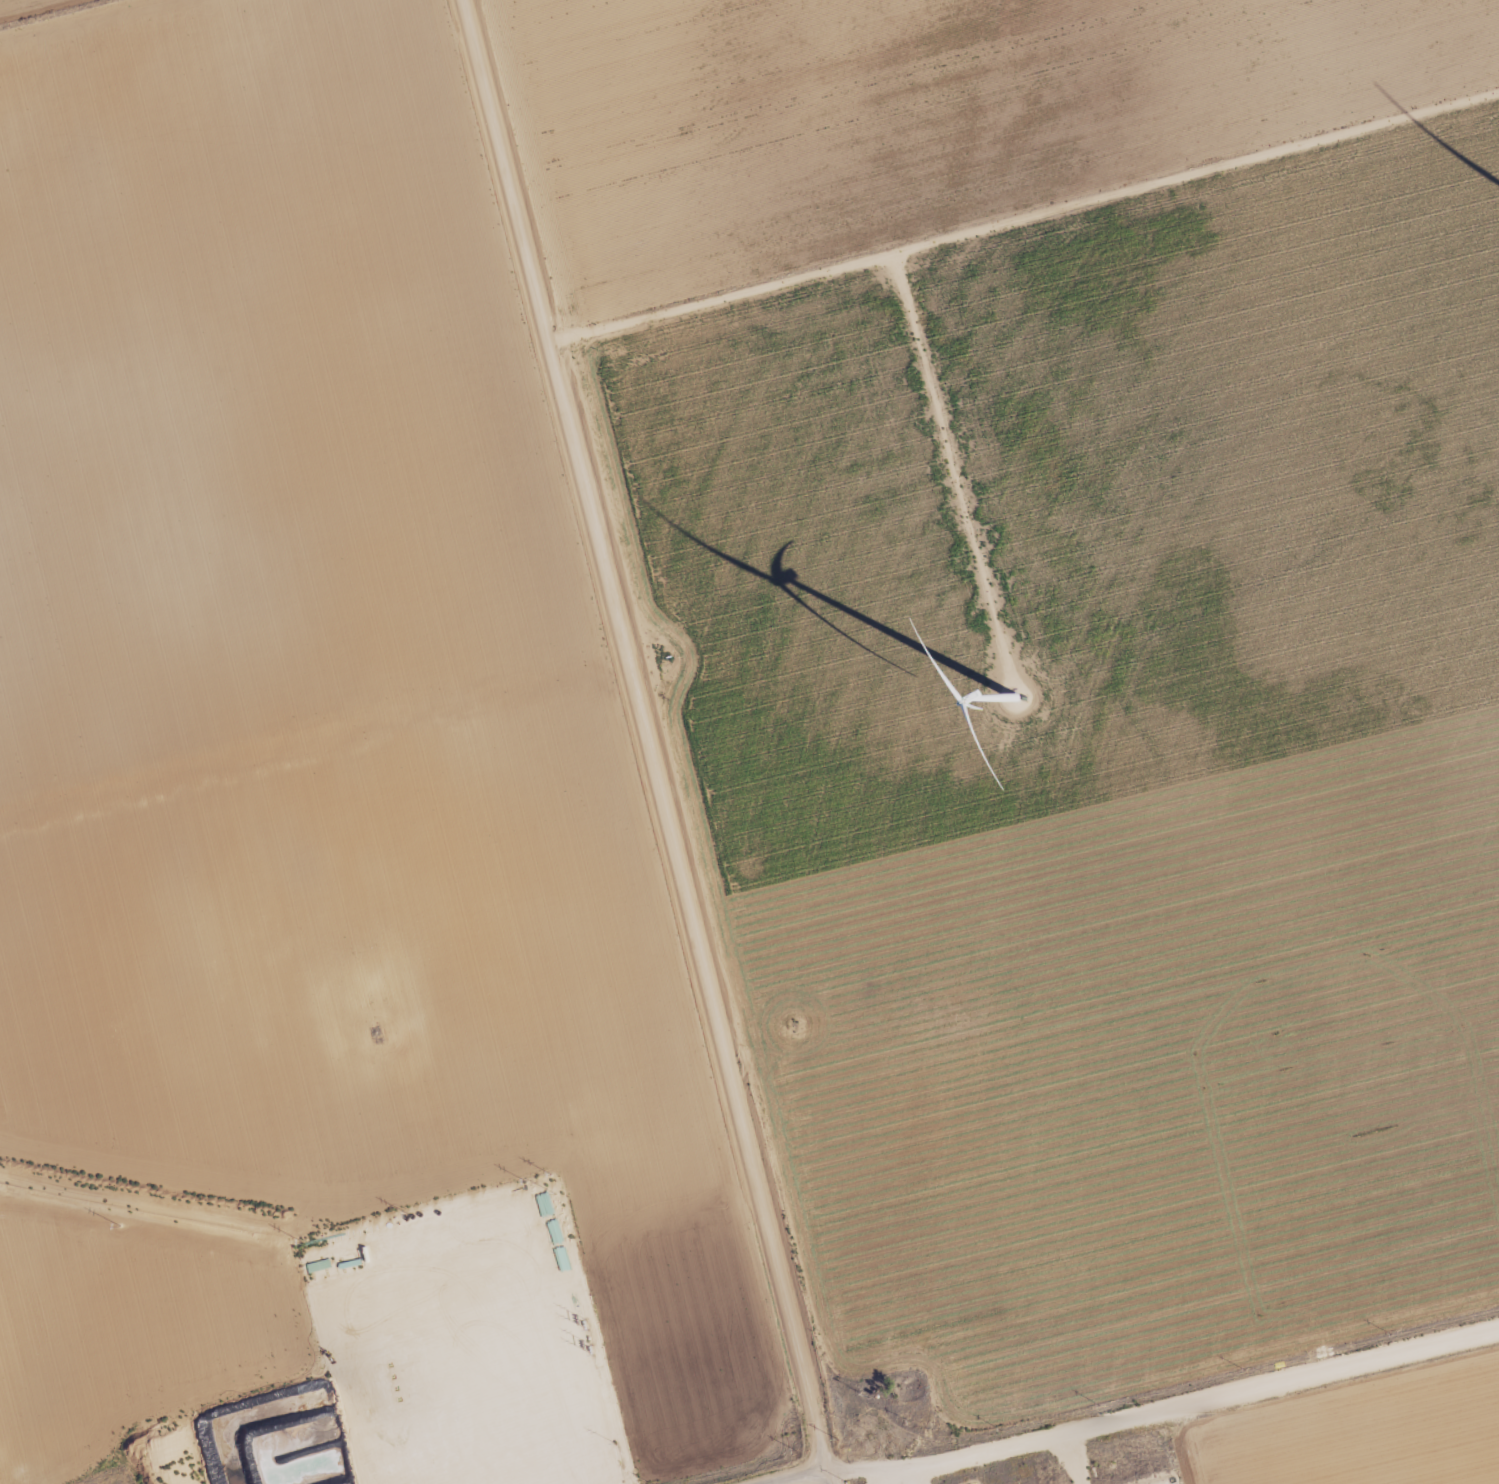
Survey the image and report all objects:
wind turbine: (1008, 698)
road: (644, 742)
road: (797, 1477)

